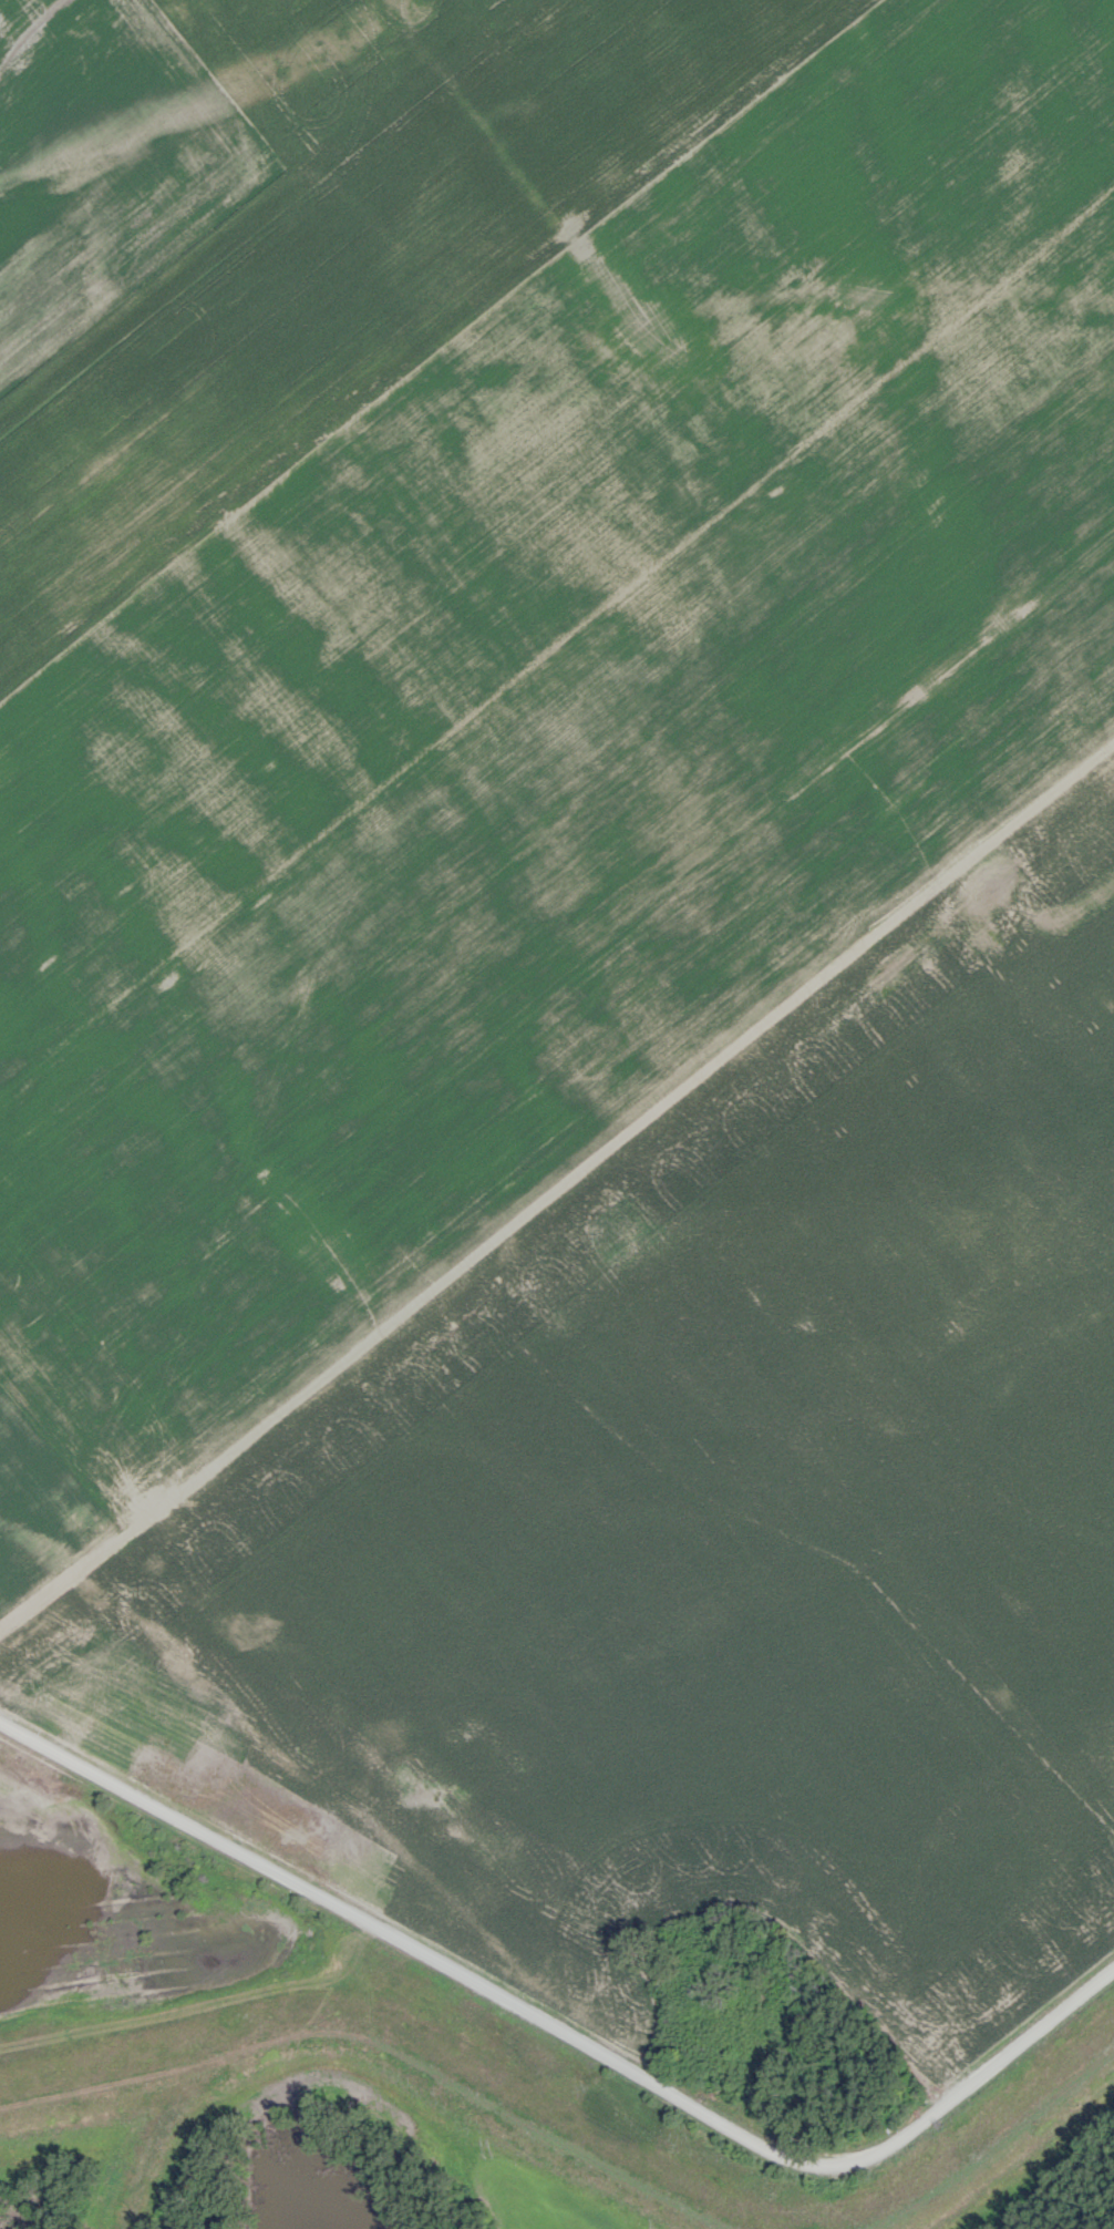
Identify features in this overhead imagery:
road: (268, 1978)
building: (806, 1991)
road: (565, 2033)
road: (383, 2040)
building: (829, 2091)
road: (156, 2138)
road: (993, 2149)

